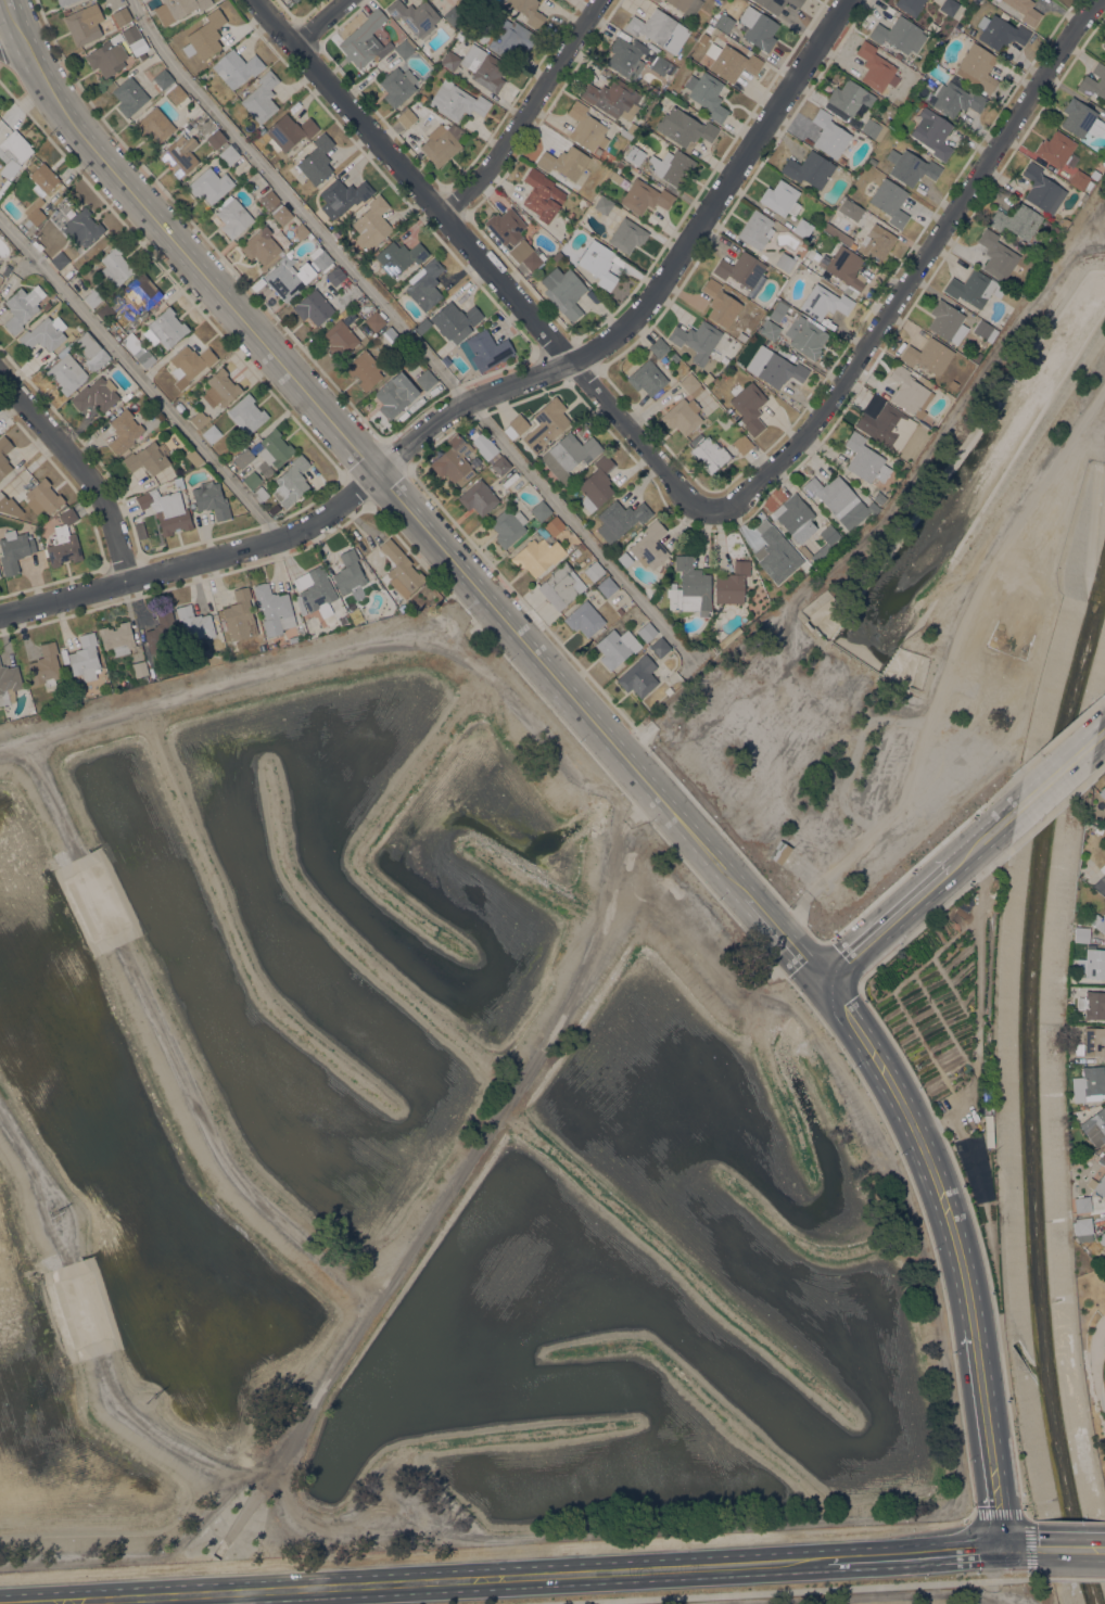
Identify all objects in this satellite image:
building: (293, 0)
building: (295, 0)
building: (655, 0)
building: (657, 0)
building: (64, 2)
building: (796, 2)
building: (772, 5)
building: (910, 5)
building: (686, 7)
building: (949, 7)
building: (178, 9)
building: (1025, 10)
building: (528, 11)
building: (122, 15)
building: (453, 15)
building: (415, 16)
building: (724, 23)
building: (84, 24)
road: (321, 24)
building: (709, 28)
building: (757, 28)
building: (659, 29)
building: (1000, 33)
building: (899, 34)
building: (204, 36)
building: (506, 36)
building: (702, 38)
building: (135, 39)
building: (365, 40)
building: (1104, 43)
building: (405, 48)
building: (107, 55)
building: (390, 55)
building: (625, 58)
building: (450, 61)
road: (36, 62)
building: (731, 62)
road: (23, 63)
building: (661, 66)
building: (236, 67)
building: (483, 67)
building: (876, 67)
building: (976, 67)
building: (164, 79)
building: (1093, 81)
building: (397, 86)
building: (707, 94)
building: (129, 96)
building: (177, 96)
building: (850, 97)
building: (261, 98)
building: (613, 98)
building: (955, 99)
building: (456, 101)
road: (526, 112)
building: (406, 117)
building: (1080, 118)
building: (154, 125)
building: (586, 127)
building: (684, 127)
building: (632, 128)
building: (874, 128)
building: (289, 131)
building: (932, 132)
building: (625, 133)
building: (829, 133)
building: (216, 139)
building: (442, 143)
building: (15, 145)
building: (1054, 149)
building: (229, 154)
building: (635, 154)
building: (180, 155)
building: (316, 160)
building: (564, 162)
building: (620, 164)
building: (672, 166)
building: (910, 167)
building: (17, 169)
building: (809, 169)
building: (614, 176)
building: (1082, 178)
building: (43, 179)
building: (209, 184)
building: (1041, 189)
road: (720, 191)
building: (542, 194)
building: (342, 196)
building: (645, 196)
building: (780, 198)
building: (1081, 199)
building: (888, 200)
building: (269, 201)
building: (602, 204)
building: (849, 208)
building: (35, 214)
building: (281, 214)
building: (233, 218)
building: (1016, 220)
building: (1062, 221)
building: (371, 224)
building: (506, 226)
building: (82, 227)
building: (755, 229)
building: (803, 229)
building: (301, 230)
building: (336, 232)
building: (626, 234)
building: (839, 234)
building: (876, 242)
building: (263, 243)
building: (37, 245)
building: (996, 255)
building: (398, 256)
building: (533, 258)
building: (60, 259)
building: (322, 260)
road: (482, 260)
building: (785, 262)
building: (599, 263)
building: (116, 266)
road: (916, 267)
building: (846, 268)
building: (740, 269)
building: (5, 273)
building: (288, 276)
building: (335, 276)
building: (1, 278)
building: (424, 284)
building: (973, 288)
building: (141, 291)
building: (563, 291)
building: (102, 292)
building: (92, 297)
building: (824, 302)
building: (720, 303)
building: (47, 305)
building: (22, 307)
building: (314, 307)
building: (777, 310)
building: (104, 311)
building: (120, 319)
building: (455, 320)
building: (374, 321)
building: (945, 321)
building: (167, 327)
building: (769, 329)
building: (983, 330)
road: (407, 332)
building: (43, 334)
building: (804, 335)
building: (388, 336)
building: (339, 339)
building: (697, 340)
building: (658, 347)
building: (485, 349)
building: (91, 351)
building: (784, 353)
building: (928, 355)
building: (674, 356)
building: (143, 357)
building: (190, 364)
building: (364, 370)
building: (732, 370)
building: (779, 370)
building: (66, 372)
building: (725, 375)
road: (140, 377)
building: (647, 378)
building: (426, 379)
building: (690, 384)
building: (951, 384)
building: (220, 389)
building: (910, 391)
building: (138, 393)
building: (96, 394)
building: (395, 394)
building: (126, 396)
road: (465, 403)
building: (749, 407)
building: (245, 413)
building: (682, 416)
building: (199, 418)
building: (880, 422)
building: (546, 424)
building: (516, 425)
building: (124, 431)
building: (211, 433)
building: (742, 443)
building: (486, 447)
building: (275, 448)
building: (710, 454)
building: (4, 455)
building: (568, 455)
building: (193, 457)
building: (147, 458)
building: (243, 458)
building: (864, 459)
building: (454, 461)
building: (500, 464)
road: (82, 468)
building: (252, 480)
building: (291, 482)
building: (597, 484)
building: (261, 494)
building: (830, 494)
building: (42, 497)
building: (478, 497)
building: (878, 498)
building: (2, 499)
building: (211, 499)
building: (166, 510)
building: (541, 510)
building: (795, 518)
building: (620, 519)
building: (554, 525)
building: (507, 526)
building: (63, 540)
building: (826, 545)
building: (649, 546)
building: (14, 549)
building: (579, 549)
building: (775, 552)
building: (537, 556)
building: (624, 559)
road: (196, 561)
building: (399, 570)
building: (594, 571)
building: (348, 572)
building: (732, 583)
building: (561, 585)
building: (607, 586)
building: (689, 587)
building: (661, 588)
building: (314, 591)
building: (657, 597)
building: (274, 609)
building: (240, 615)
building: (584, 619)
building: (195, 625)
building: (161, 632)
building: (647, 632)
building: (117, 637)
building: (293, 638)
building: (725, 639)
building: (617, 647)
building: (660, 647)
building: (85, 658)
building: (46, 665)
building: (139, 669)
building: (153, 676)
building: (638, 676)
building: (144, 678)
building: (9, 683)
road: (573, 697)
road: (1102, 735)
road: (639, 739)
road: (1058, 773)
building: (1102, 792)
road: (986, 836)
building: (779, 852)
building: (1103, 871)
building: (1100, 884)
road: (793, 913)
building: (1098, 921)
road: (887, 922)
building: (1080, 933)
building: (1092, 963)
building: (1092, 1005)
building: (1091, 1041)
building: (1088, 1084)
building: (1076, 1115)
building: (1094, 1126)
road: (1064, 1144)
building: (1103, 1155)
building: (1100, 1161)
road: (454, 1180)
building: (1097, 1186)
building: (1104, 1199)
building: (1081, 1204)
power tower: (55, 1215)
building: (1082, 1229)
building: (1102, 1238)
power tower: (150, 1400)
road: (989, 1439)
road: (1026, 1518)
road: (1074, 1548)
traffic signals: (1004, 1549)
road: (1024, 1549)
road: (485, 1551)
road: (916, 1554)
road: (1078, 1577)
road: (421, 1581)
road: (803, 1590)
road: (881, 1595)

